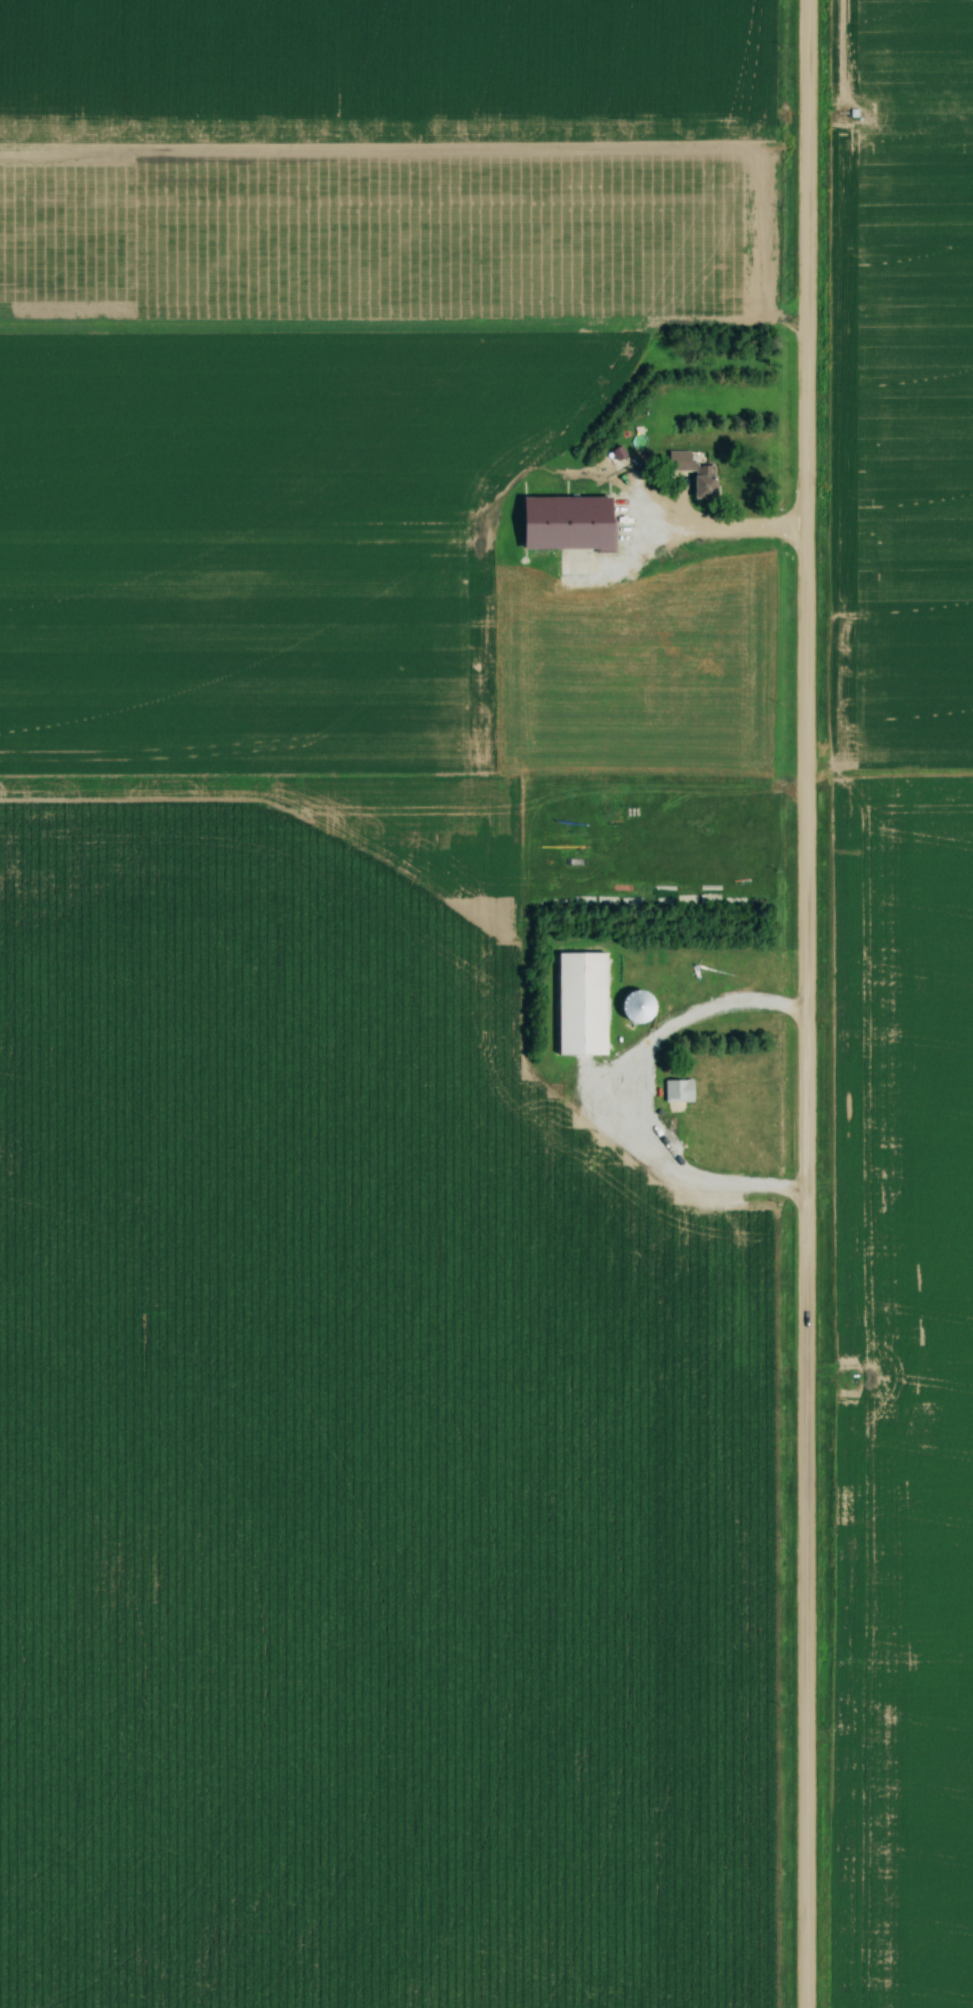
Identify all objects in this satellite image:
building: (703, 484)
building: (581, 1003)
road: (804, 1003)
building: (637, 1006)
road: (715, 1017)
building: (678, 1090)

